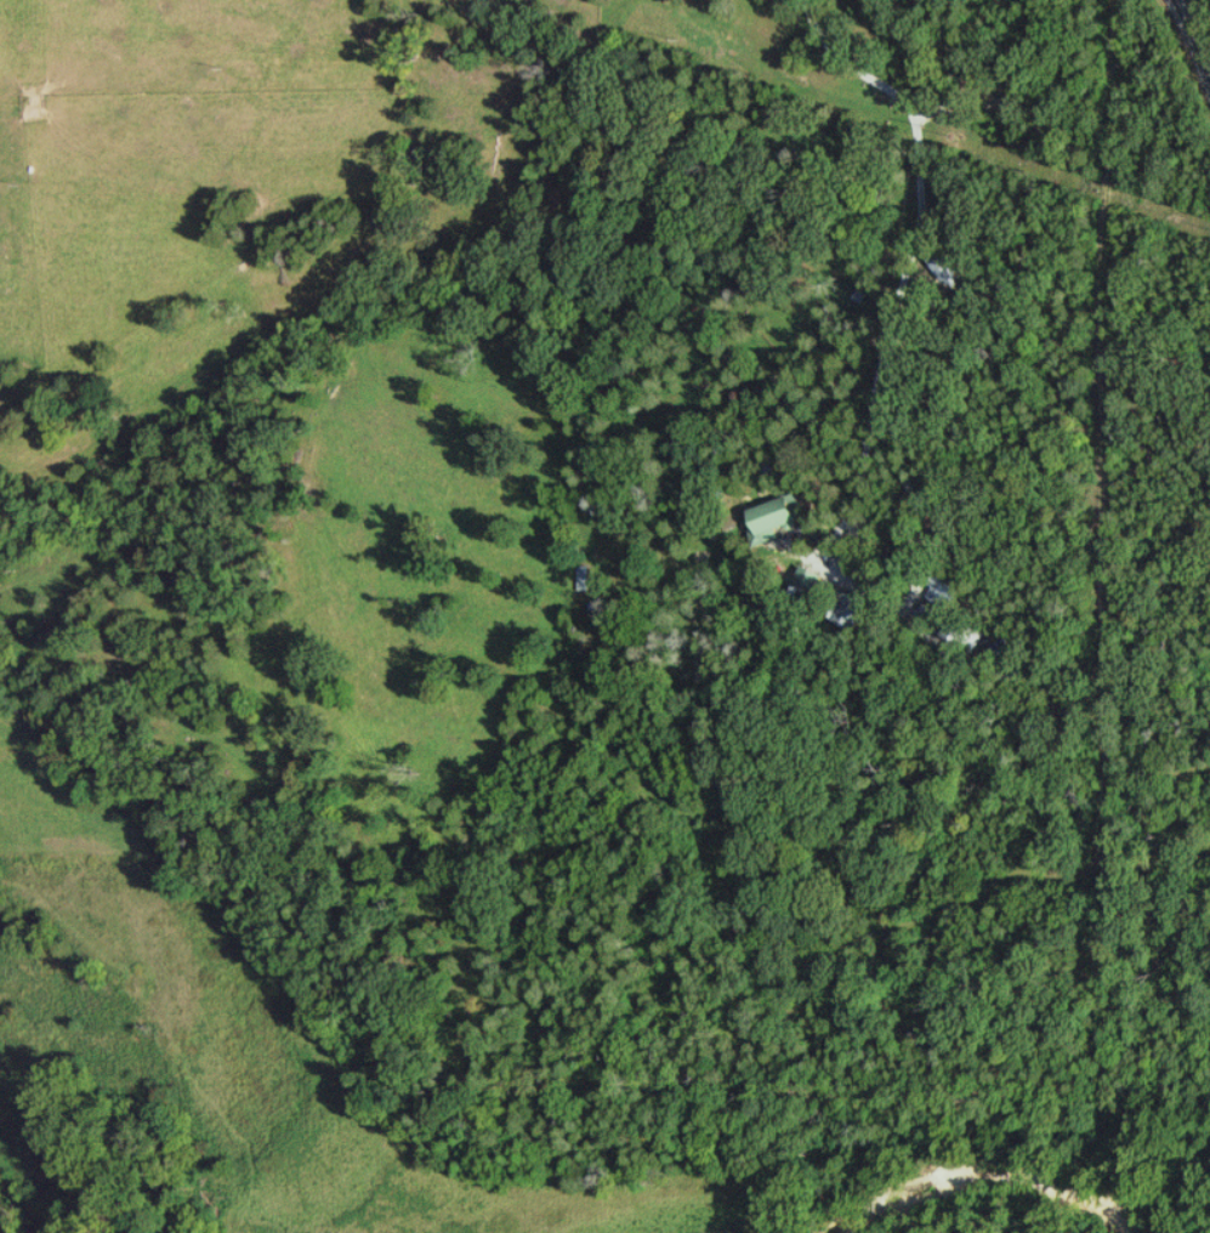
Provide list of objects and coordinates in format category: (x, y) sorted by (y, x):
road: (1194, 38)
road: (363, 146)
road: (918, 155)
building: (782, 517)
road: (881, 597)

